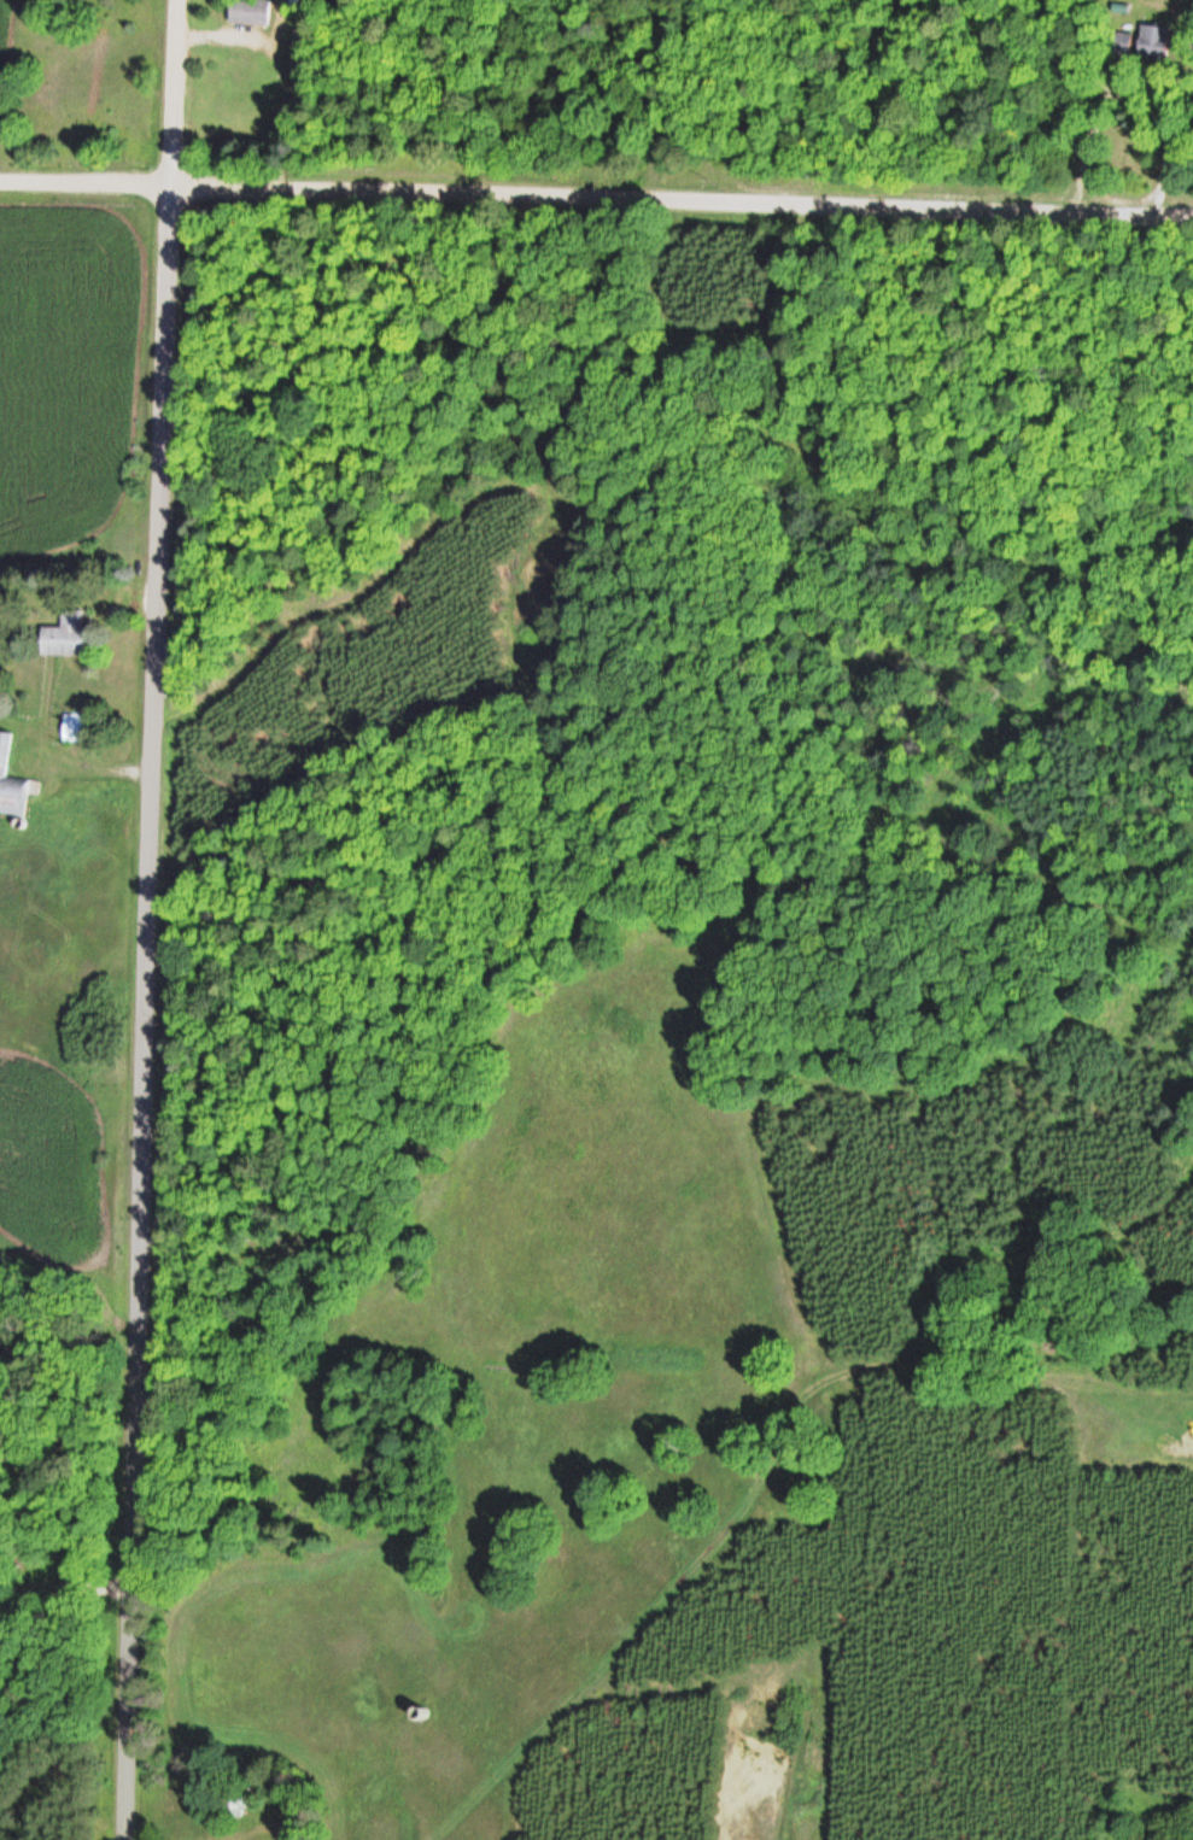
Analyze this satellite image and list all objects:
road: (205, 39)
road: (1163, 170)
road: (596, 198)
road: (110, 769)
road: (146, 919)
road: (765, 1478)

